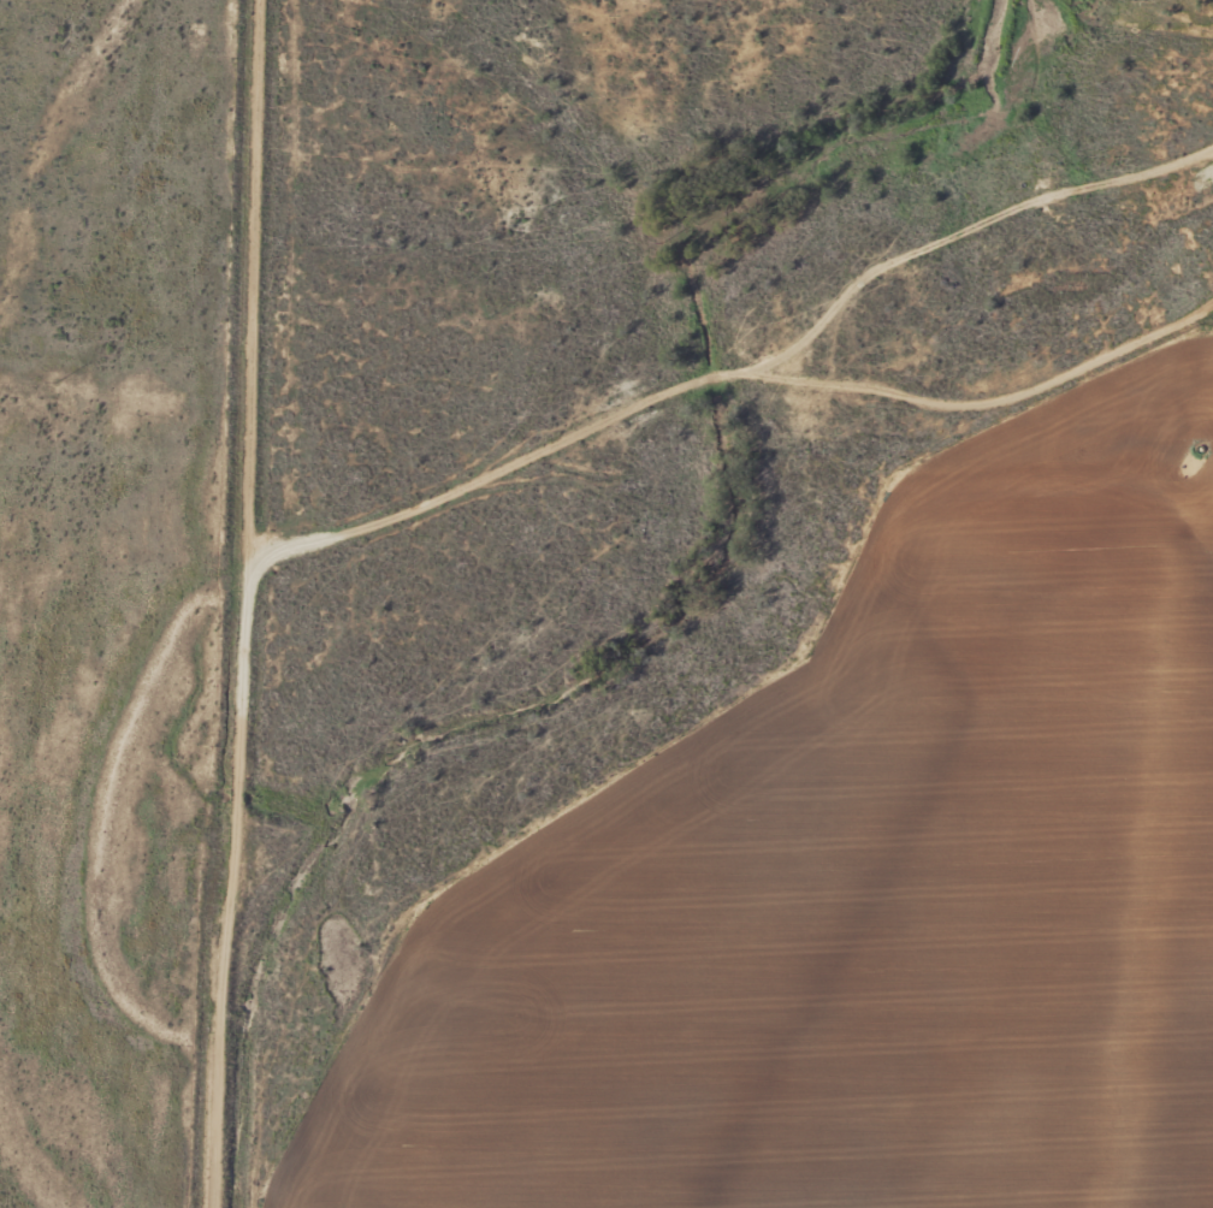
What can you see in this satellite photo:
road: (218, 330)
road: (712, 385)
road: (202, 934)

